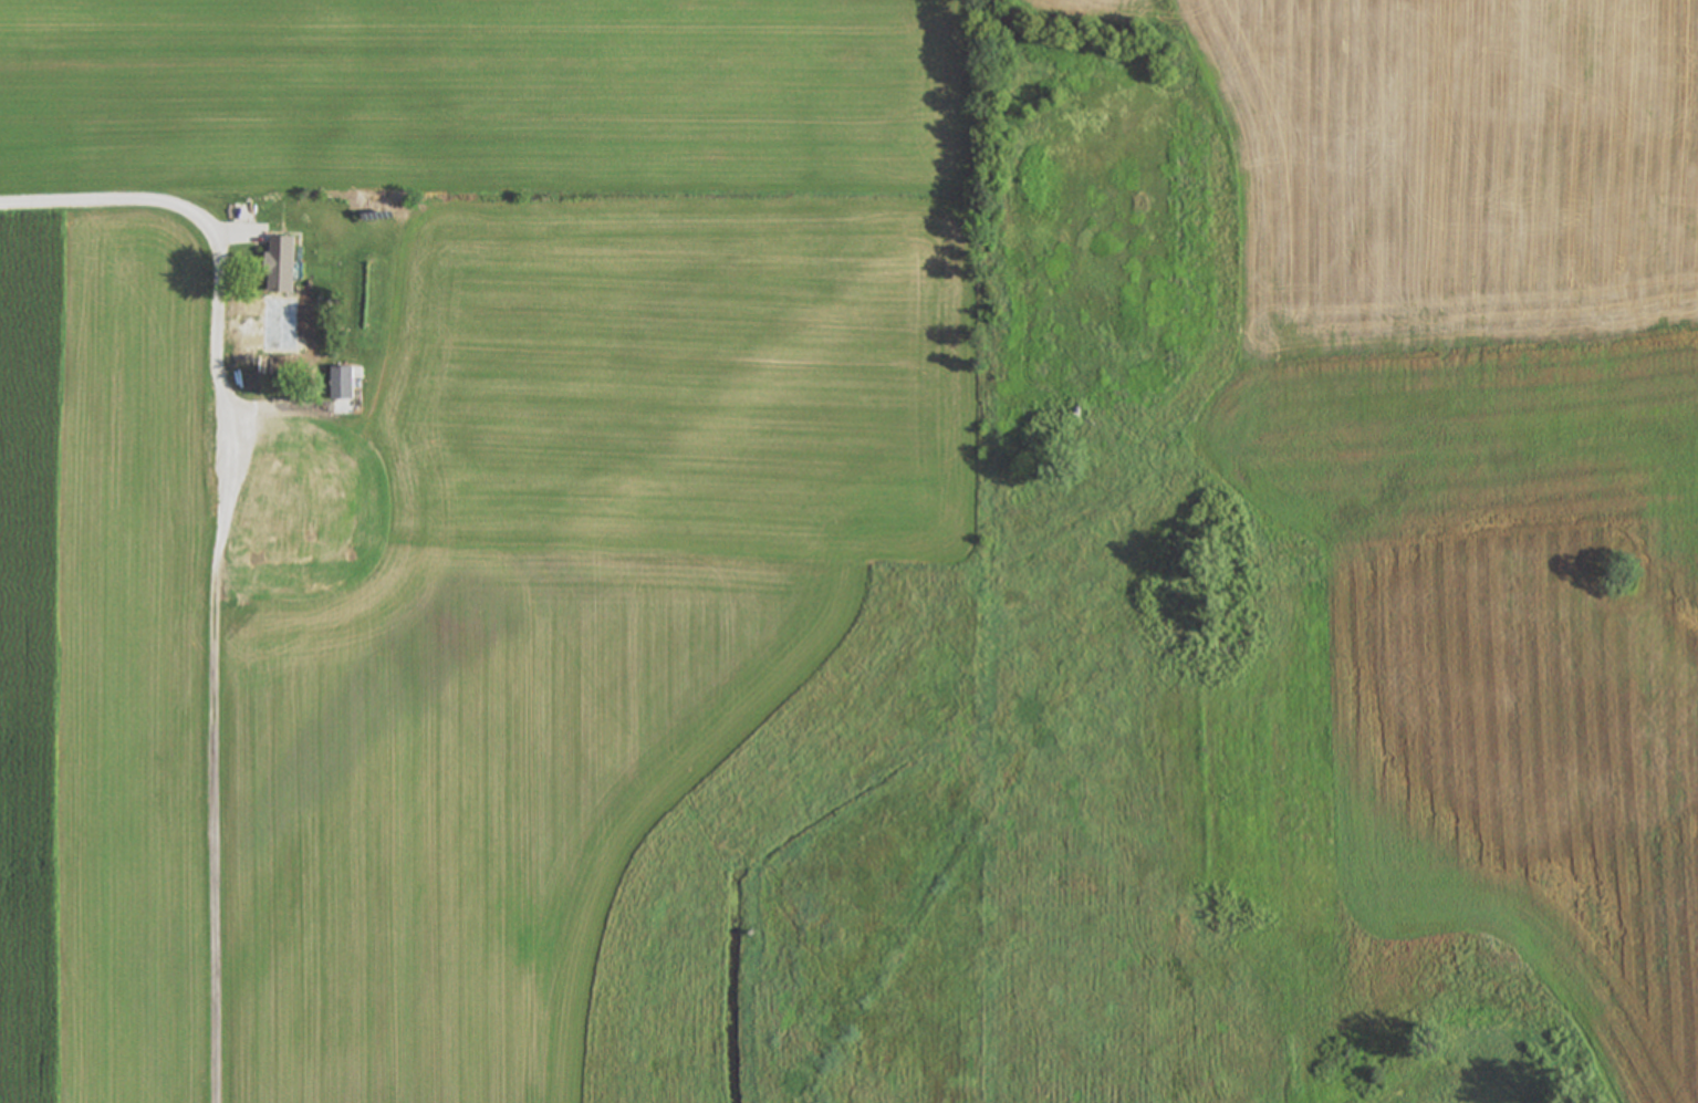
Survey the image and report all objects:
building: (285, 266)
building: (347, 385)
building: (223, 450)
building: (308, 476)
road: (215, 550)

